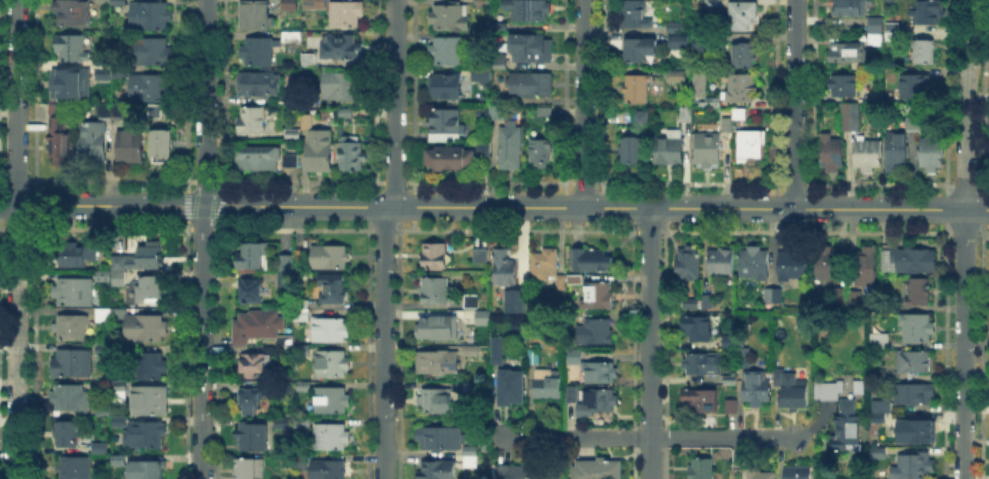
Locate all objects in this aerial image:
building: (482, 0)
building: (712, 3)
building: (290, 5)
building: (314, 5)
building: (851, 8)
building: (529, 10)
building: (929, 14)
building: (74, 15)
building: (639, 15)
building: (743, 15)
building: (151, 16)
building: (257, 17)
building: (348, 17)
building: (450, 20)
building: (875, 25)
building: (676, 27)
building: (894, 28)
building: (893, 37)
building: (292, 38)
building: (700, 42)
building: (710, 42)
building: (679, 44)
building: (341, 49)
building: (532, 49)
building: (74, 50)
building: (640, 50)
building: (154, 54)
building: (258, 54)
building: (449, 54)
building: (851, 54)
building: (925, 54)
building: (745, 57)
building: (309, 62)
building: (501, 64)
building: (121, 72)
building: (102, 73)
building: (677, 77)
building: (482, 78)
building: (697, 82)
building: (262, 85)
building: (532, 85)
building: (737, 85)
building: (72, 86)
building: (845, 86)
building: (340, 87)
building: (916, 87)
building: (150, 88)
building: (449, 89)
building: (638, 89)
building: (499, 99)
building: (288, 100)
road: (206, 103)
road: (393, 103)
road: (584, 103)
road: (795, 103)
building: (346, 111)
building: (110, 112)
building: (546, 113)
building: (156, 114)
building: (688, 114)
building: (740, 114)
building: (497, 115)
building: (850, 118)
building: (641, 119)
building: (308, 121)
building: (254, 122)
building: (447, 123)
building: (915, 123)
building: (728, 124)
building: (293, 134)
building: (61, 137)
building: (93, 144)
building: (752, 145)
building: (511, 147)
building: (163, 148)
building: (131, 150)
building: (484, 150)
building: (634, 150)
building: (670, 150)
building: (710, 151)
building: (320, 152)
building: (899, 152)
building: (542, 154)
building: (832, 154)
building: (869, 154)
building: (933, 155)
building: (351, 157)
building: (448, 159)
building: (259, 160)
building: (292, 162)
road: (102, 205)
road: (596, 208)
road: (964, 238)
road: (17, 239)
building: (432, 253)
building: (478, 253)
building: (152, 255)
building: (332, 256)
building: (76, 258)
building: (252, 258)
building: (546, 260)
building: (916, 260)
building: (593, 261)
building: (723, 262)
building: (287, 263)
building: (755, 264)
building: (829, 264)
building: (504, 265)
building: (690, 265)
building: (794, 266)
building: (867, 266)
building: (286, 281)
building: (432, 287)
building: (333, 289)
building: (253, 291)
building: (152, 292)
building: (919, 292)
building: (74, 293)
building: (774, 295)
building: (599, 296)
building: (469, 299)
building: (839, 299)
building: (519, 300)
building: (855, 301)
building: (708, 303)
building: (693, 304)
building: (303, 311)
building: (480, 315)
building: (107, 316)
building: (259, 326)
building: (435, 326)
building: (918, 328)
building: (72, 329)
building: (148, 329)
building: (701, 329)
building: (332, 332)
building: (601, 335)
building: (882, 341)
road: (202, 342)
building: (288, 342)
road: (383, 342)
building: (534, 342)
road: (650, 343)
building: (468, 348)
building: (495, 348)
building: (105, 351)
building: (272, 352)
building: (572, 355)
building: (533, 357)
building: (746, 358)
building: (435, 360)
building: (914, 361)
building: (74, 364)
building: (704, 365)
building: (253, 366)
building: (333, 366)
building: (155, 368)
building: (603, 374)
building: (881, 374)
building: (732, 381)
building: (511, 382)
building: (468, 385)
building: (306, 386)
building: (121, 387)
building: (550, 387)
building: (755, 388)
building: (790, 390)
building: (830, 391)
building: (570, 392)
building: (915, 393)
building: (252, 396)
building: (433, 398)
building: (72, 399)
building: (332, 401)
building: (602, 401)
building: (151, 402)
building: (702, 402)
building: (882, 404)
building: (732, 408)
building: (105, 413)
building: (878, 416)
building: (118, 421)
building: (283, 425)
building: (848, 431)
building: (915, 433)
building: (69, 436)
building: (147, 436)
building: (437, 436)
road: (649, 437)
building: (332, 438)
building: (252, 439)
building: (100, 445)
building: (482, 445)
building: (468, 448)
building: (878, 451)
building: (481, 456)
building: (119, 457)
building: (468, 459)
building: (294, 465)
building: (152, 466)
building: (914, 467)
building: (75, 469)
building: (435, 469)
building: (600, 469)
building: (702, 469)
building: (252, 470)
building: (330, 470)
building: (524, 470)
building: (798, 471)
building: (763, 475)
building: (104, 478)

